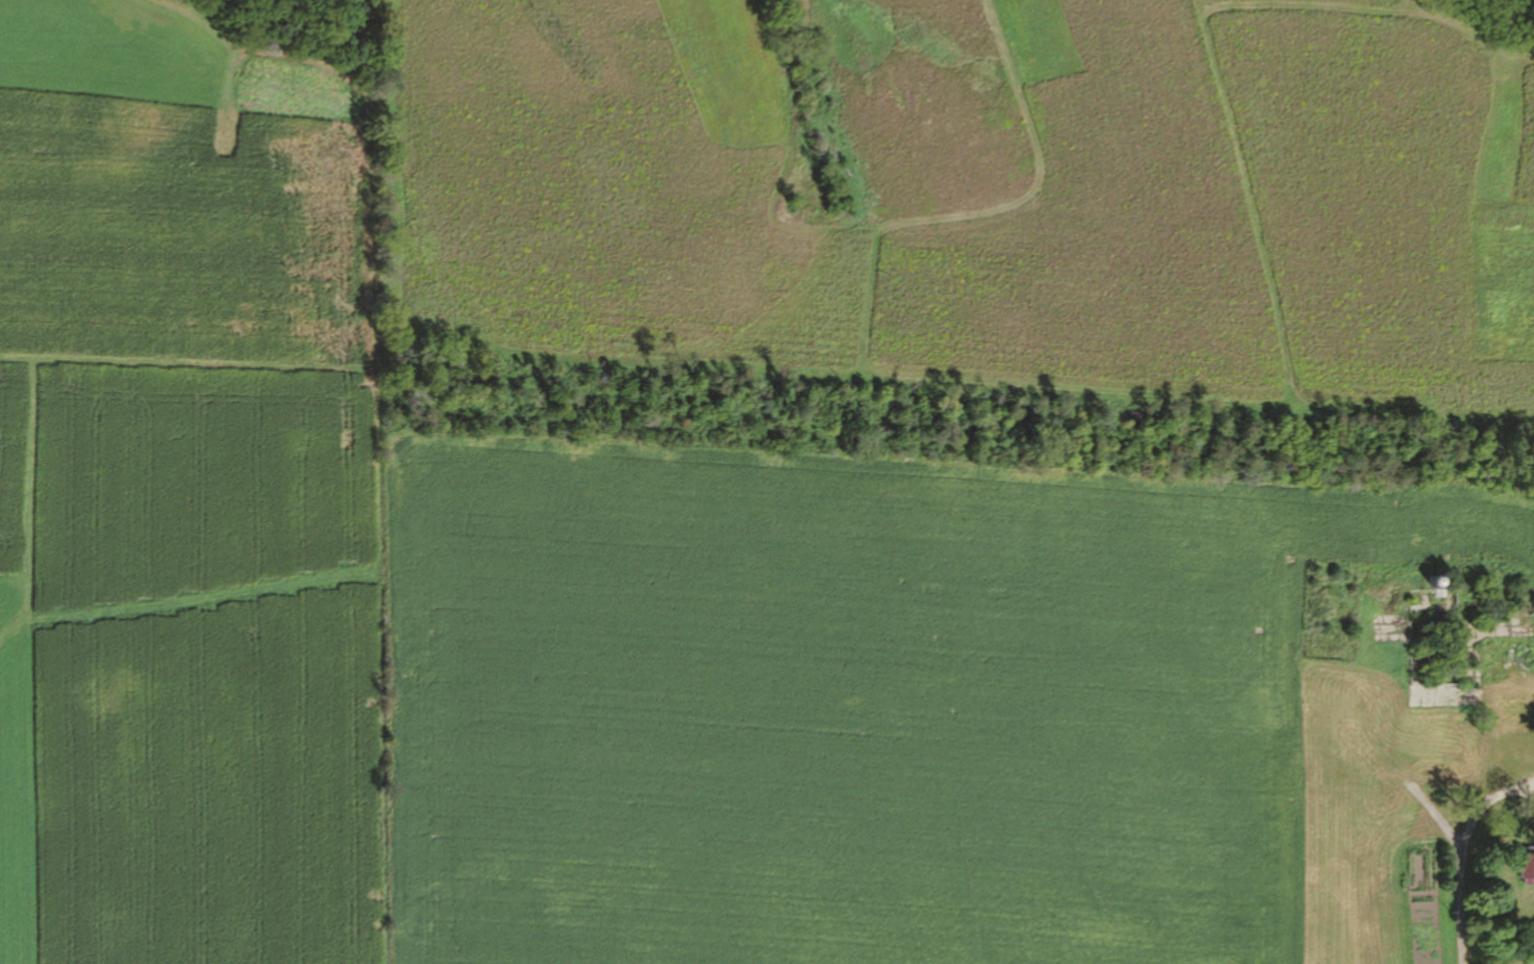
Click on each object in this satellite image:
building: (1520, 868)
road: (1460, 908)

